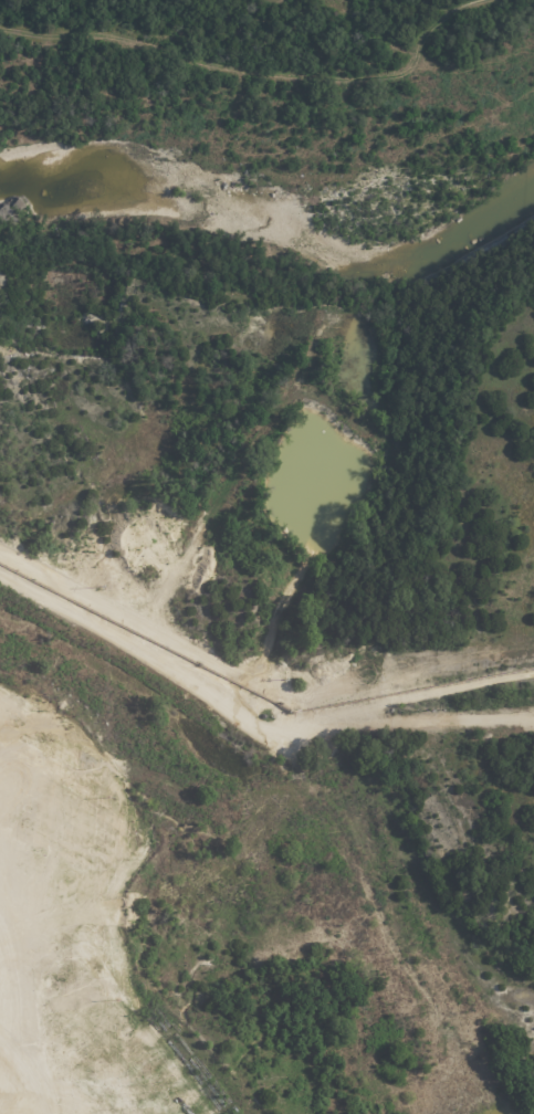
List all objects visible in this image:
building: (127, 1028)

